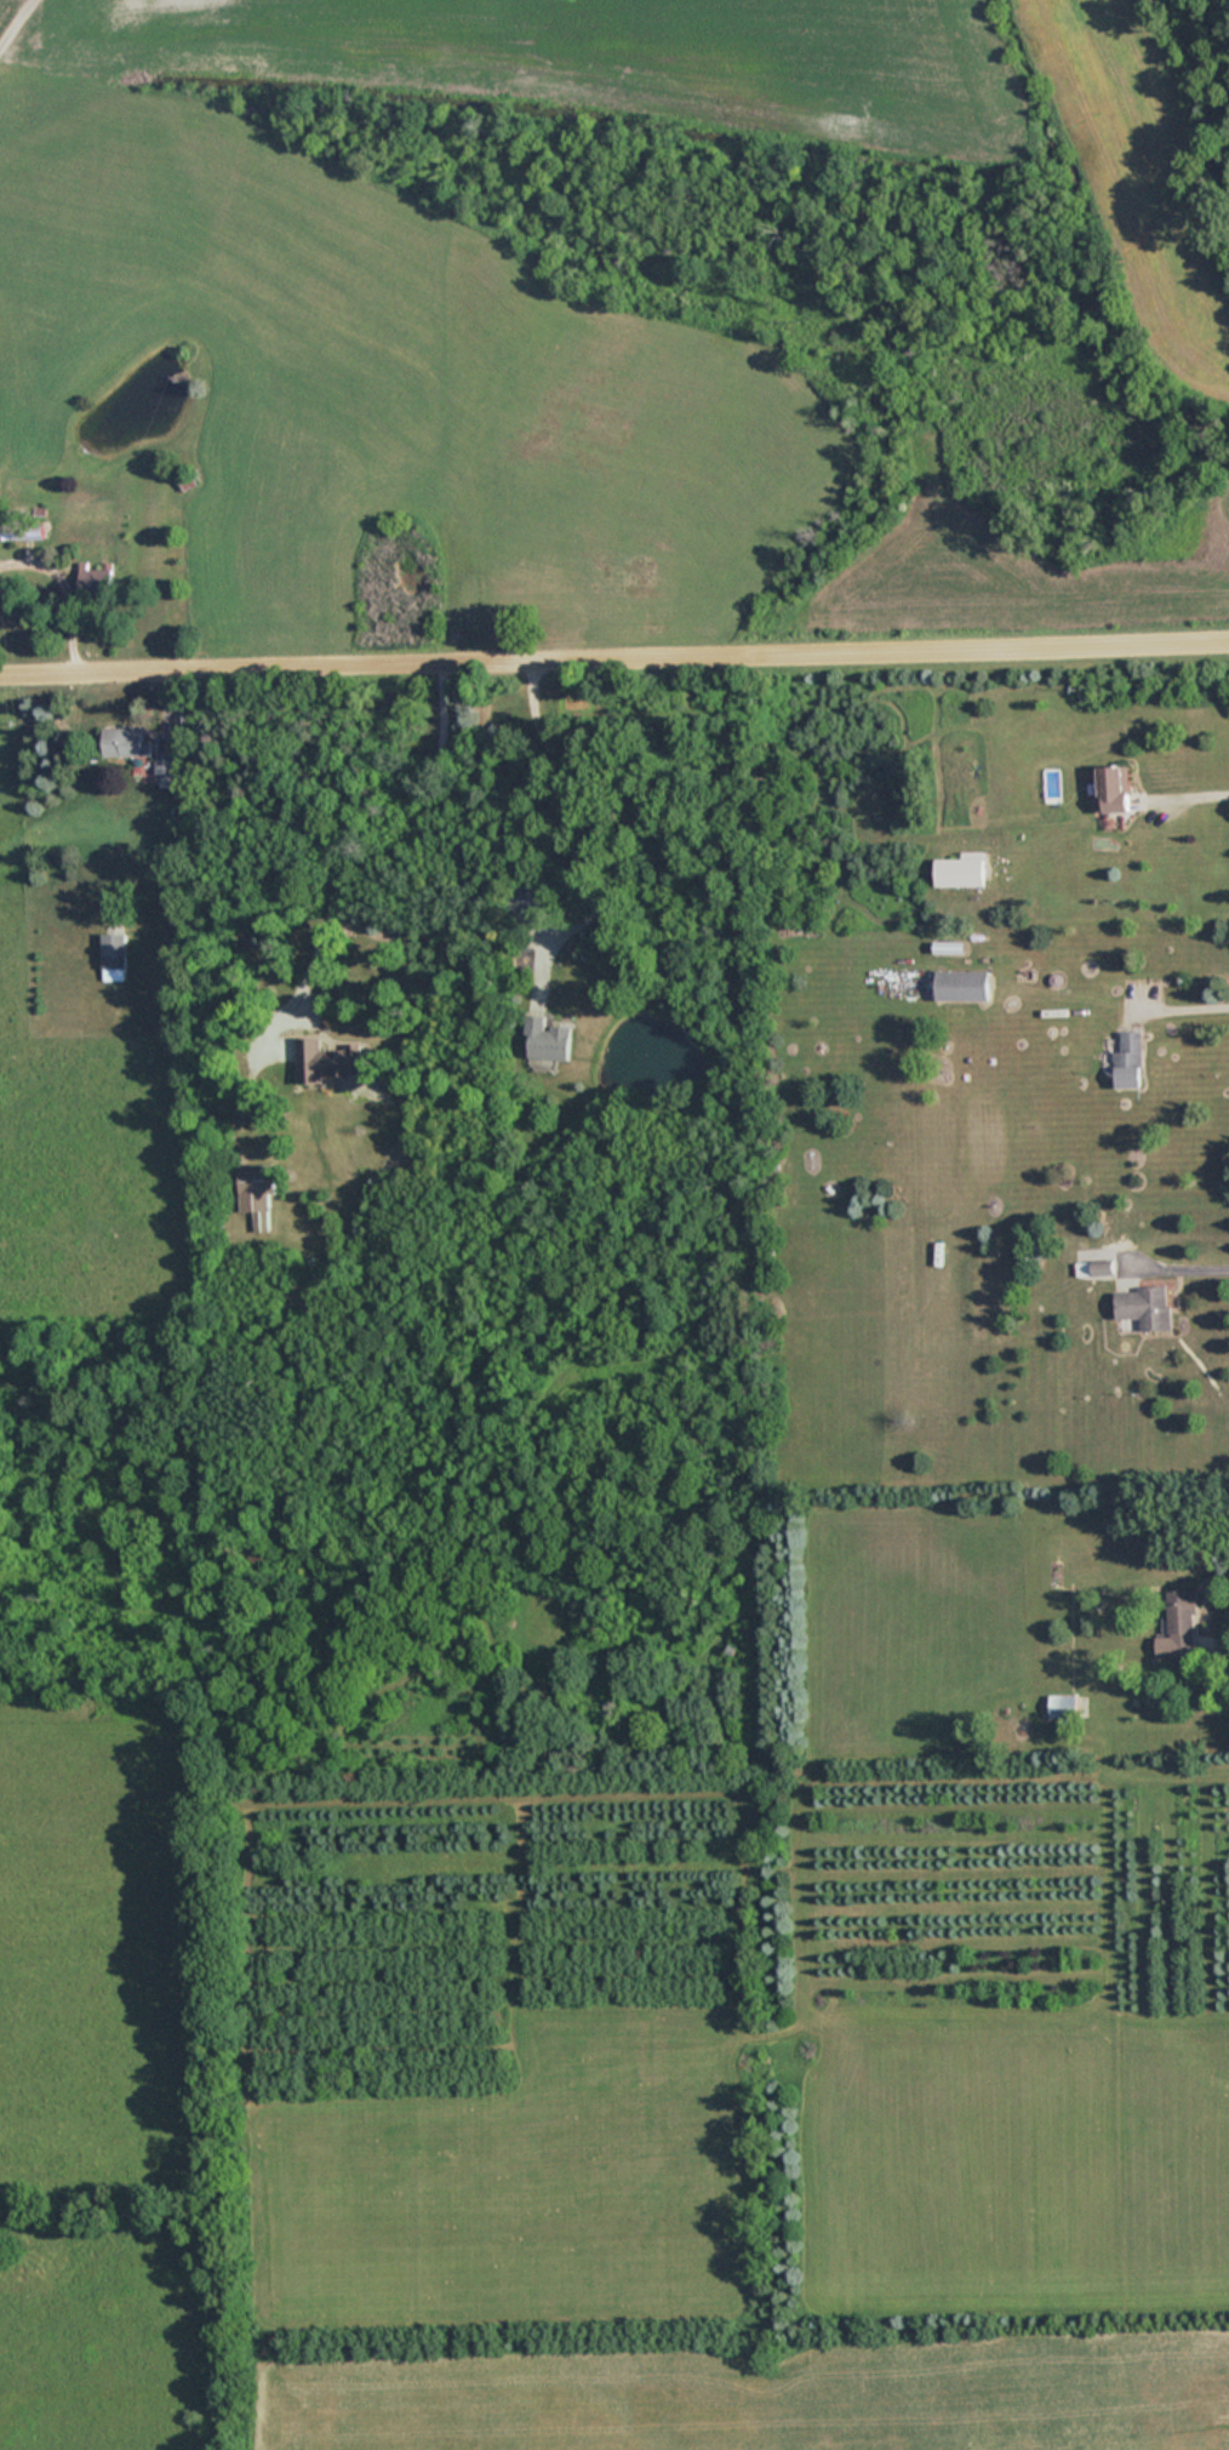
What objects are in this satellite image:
road: (10, 13)
building: (95, 579)
road: (59, 594)
road: (613, 657)
building: (125, 742)
building: (165, 761)
building: (1113, 787)
road: (1188, 795)
road: (377, 824)
road: (595, 827)
building: (959, 869)
building: (524, 901)
building: (114, 949)
building: (960, 984)
road: (1181, 1009)
building: (547, 1039)
building: (1128, 1057)
building: (327, 1058)
building: (256, 1193)
road: (1179, 1267)
building: (1145, 1306)
building: (1181, 1622)
road: (1222, 1649)
building: (1062, 1706)

